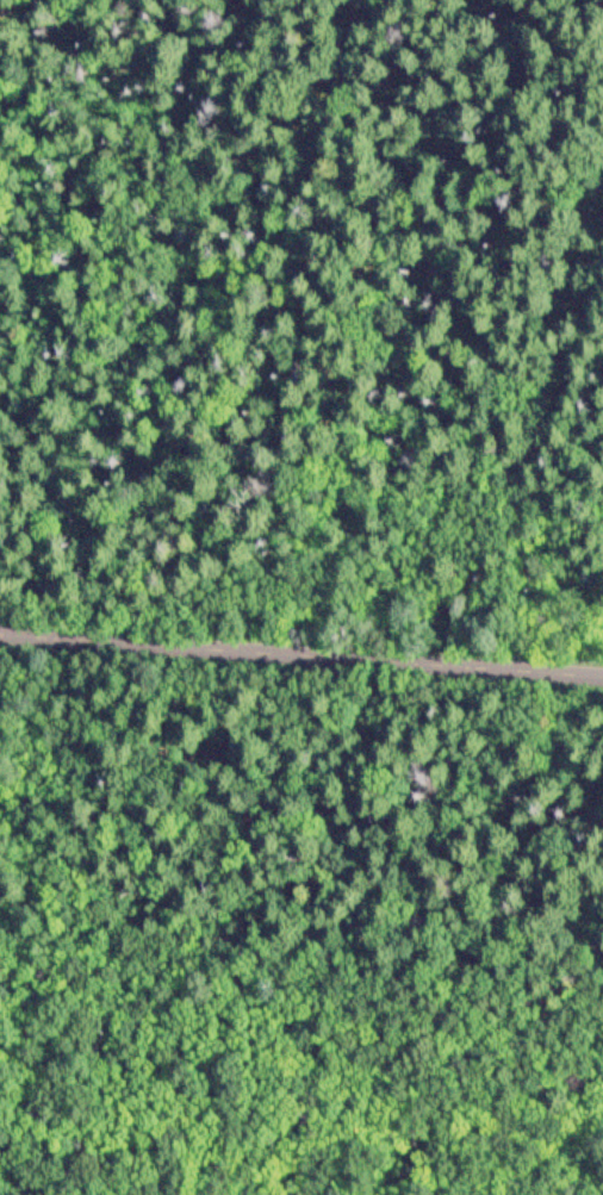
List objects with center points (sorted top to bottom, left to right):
road: (301, 654)
road: (120, 1174)

